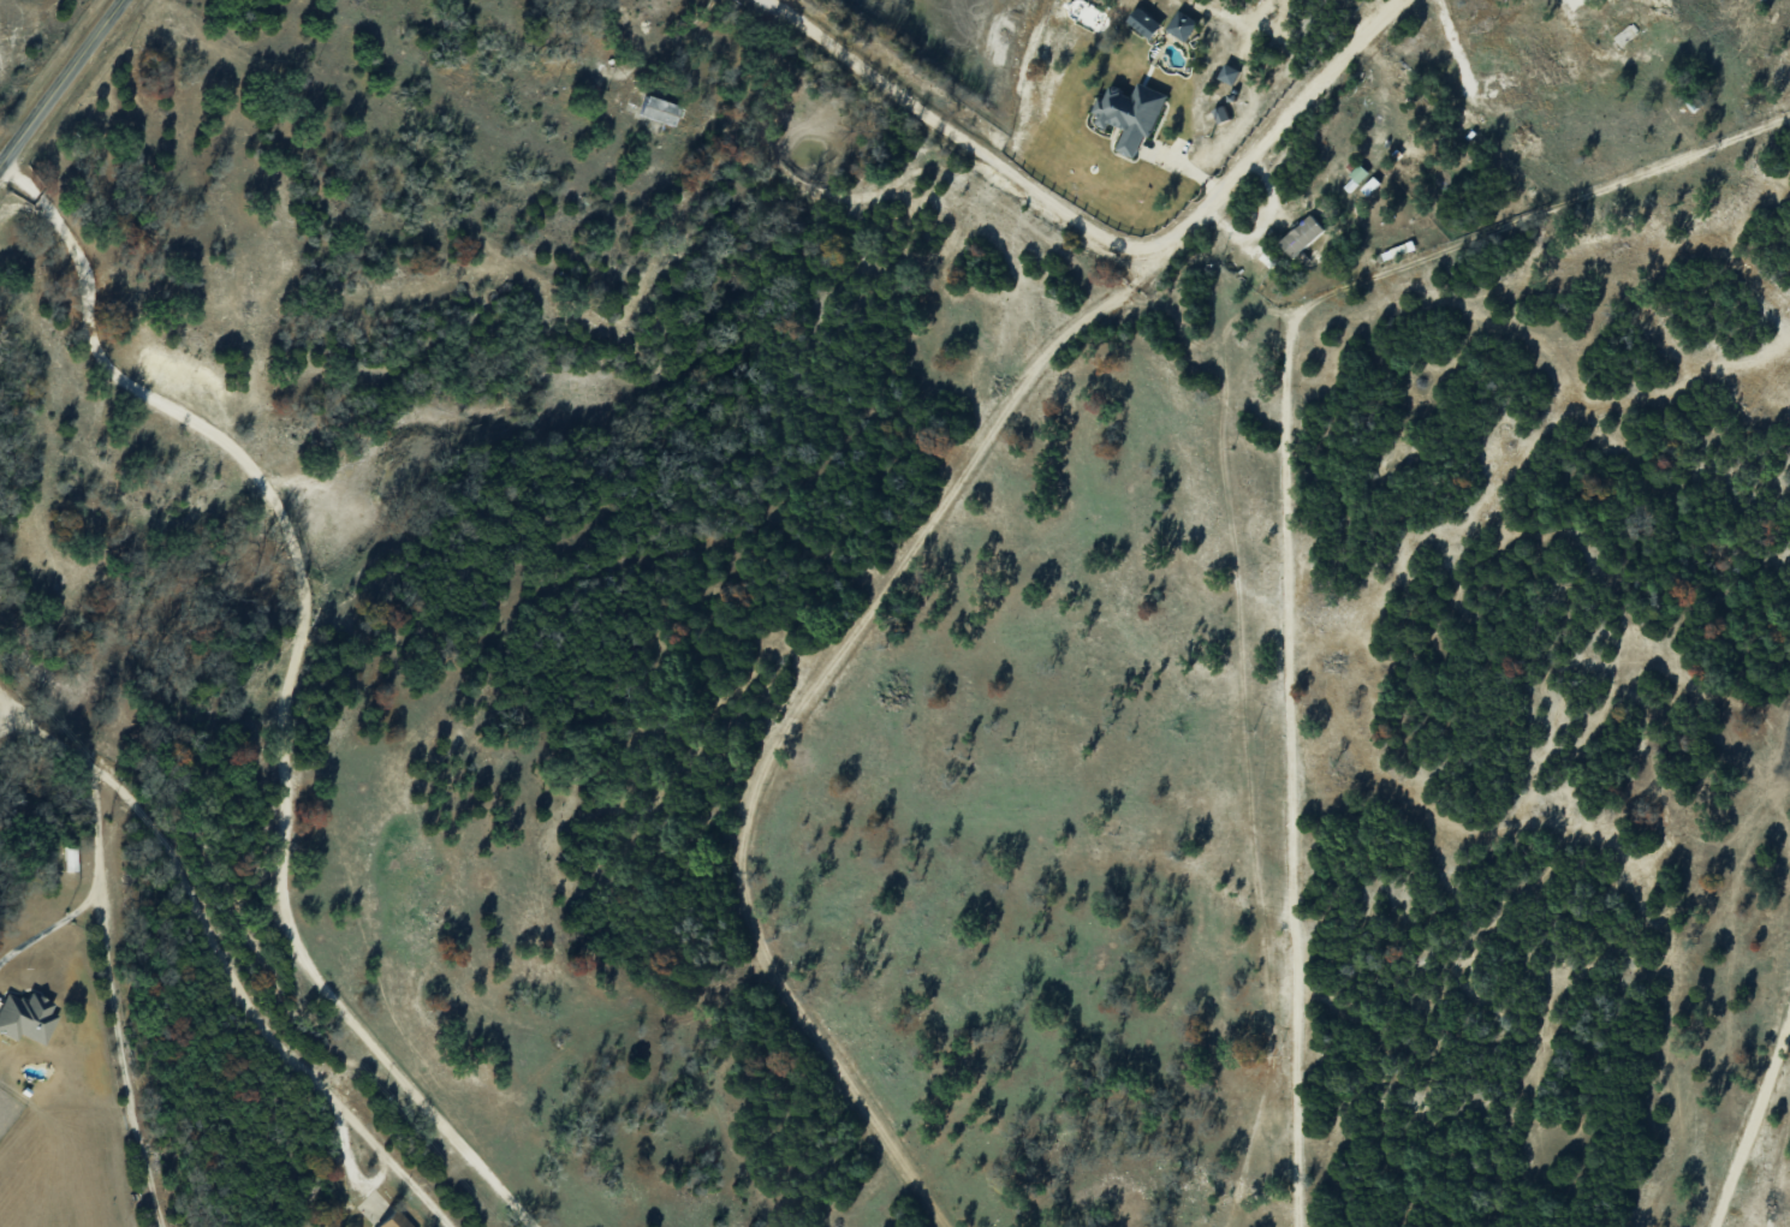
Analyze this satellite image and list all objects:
building: (1143, 23)
building: (1181, 24)
building: (1229, 73)
road: (59, 83)
building: (659, 109)
building: (1130, 113)
building: (1221, 113)
road: (0, 163)
building: (1355, 175)
building: (1369, 184)
road: (1105, 231)
building: (1301, 234)
building: (70, 859)
road: (225, 960)
road: (129, 997)
building: (25, 1017)
building: (392, 1220)

